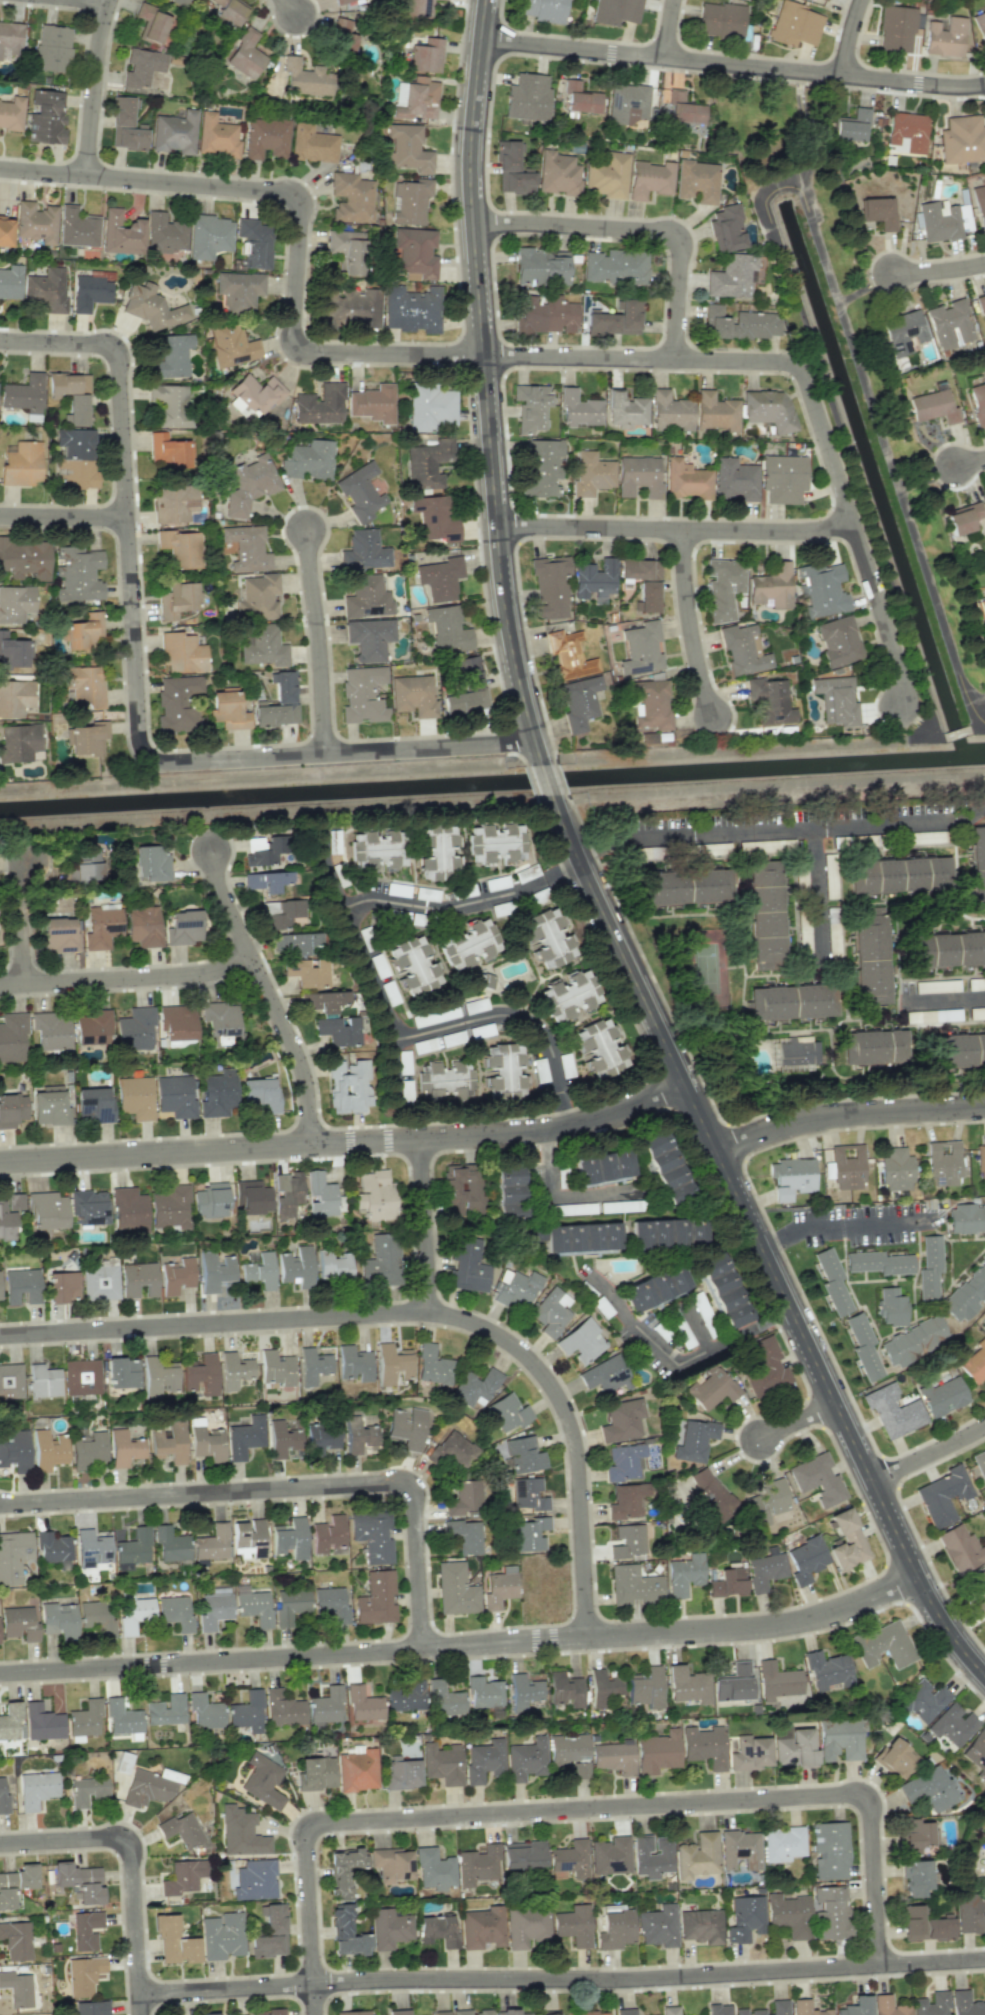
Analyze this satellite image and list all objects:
road: (109, 0)
building: (824, 0)
building: (340, 1)
building: (180, 2)
road: (294, 6)
building: (417, 8)
building: (542, 10)
building: (228, 11)
building: (617, 11)
building: (721, 19)
building: (150, 23)
building: (795, 24)
building: (980, 24)
building: (896, 27)
road: (669, 29)
building: (945, 36)
building: (343, 37)
road: (849, 37)
building: (10, 39)
building: (52, 48)
building: (245, 55)
building: (426, 56)
road: (734, 65)
building: (141, 67)
building: (305, 78)
road: (97, 86)
building: (527, 97)
building: (580, 98)
building: (417, 99)
building: (628, 103)
building: (680, 110)
building: (11, 113)
building: (46, 117)
building: (851, 125)
building: (126, 126)
building: (907, 131)
building: (174, 132)
building: (216, 136)
building: (265, 138)
building: (962, 139)
building: (312, 144)
building: (407, 148)
building: (511, 169)
building: (558, 173)
building: (607, 176)
building: (649, 179)
building: (696, 181)
building: (351, 198)
building: (410, 201)
building: (979, 205)
building: (878, 212)
road: (297, 219)
building: (942, 220)
building: (35, 222)
building: (76, 227)
building: (726, 228)
road: (643, 230)
building: (5, 231)
building: (121, 233)
building: (164, 233)
building: (209, 236)
building: (254, 243)
building: (347, 250)
building: (415, 253)
building: (541, 266)
building: (615, 266)
road: (938, 272)
building: (732, 277)
building: (10, 282)
building: (46, 289)
building: (239, 289)
building: (89, 292)
building: (982, 306)
building: (151, 307)
building: (350, 307)
building: (412, 309)
building: (544, 313)
building: (616, 319)
building: (739, 323)
building: (949, 323)
building: (902, 332)
building: (231, 345)
building: (172, 356)
road: (726, 360)
building: (68, 384)
building: (256, 393)
building: (24, 396)
building: (978, 402)
building: (373, 403)
building: (170, 404)
building: (320, 405)
road: (874, 406)
building: (933, 406)
building: (530, 407)
building: (431, 408)
building: (768, 408)
building: (578, 409)
building: (76, 410)
building: (625, 410)
building: (670, 412)
building: (715, 412)
road: (848, 447)
building: (167, 451)
building: (308, 460)
building: (427, 463)
road: (971, 463)
building: (21, 464)
building: (541, 468)
building: (591, 473)
building: (638, 476)
building: (783, 479)
building: (687, 480)
building: (735, 480)
building: (248, 485)
building: (360, 492)
building: (174, 503)
road: (66, 515)
building: (434, 518)
building: (963, 518)
road: (677, 531)
building: (180, 548)
building: (246, 548)
building: (364, 551)
building: (25, 558)
building: (78, 576)
building: (440, 578)
building: (594, 579)
building: (642, 582)
building: (550, 587)
building: (771, 587)
building: (722, 588)
building: (821, 588)
building: (258, 597)
building: (367, 597)
building: (176, 600)
building: (15, 603)
building: (981, 608)
road: (884, 616)
road: (692, 627)
building: (447, 629)
building: (83, 631)
building: (369, 638)
road: (321, 641)
building: (838, 641)
building: (263, 645)
building: (641, 649)
building: (742, 649)
building: (12, 652)
building: (181, 653)
building: (568, 655)
road: (142, 682)
building: (84, 685)
building: (283, 686)
building: (466, 688)
building: (362, 695)
building: (413, 695)
building: (15, 698)
building: (770, 700)
building: (835, 700)
building: (579, 702)
building: (178, 704)
building: (651, 704)
building: (228, 709)
building: (274, 713)
road: (963, 730)
building: (87, 739)
building: (19, 742)
road: (556, 779)
road: (534, 780)
road: (780, 828)
building: (495, 843)
building: (377, 849)
building: (265, 850)
building: (437, 853)
building: (151, 862)
building: (85, 866)
building: (978, 866)
road: (590, 875)
building: (830, 875)
building: (900, 875)
building: (266, 881)
building: (686, 886)
road: (368, 898)
road: (816, 901)
road: (847, 908)
building: (281, 913)
building: (766, 914)
road: (24, 922)
building: (143, 926)
building: (102, 927)
building: (183, 928)
building: (59, 935)
building: (548, 938)
building: (294, 943)
building: (468, 944)
building: (945, 949)
building: (870, 956)
building: (414, 965)
park: (706, 968)
building: (308, 972)
road: (128, 980)
building: (569, 995)
road: (272, 996)
road: (944, 999)
building: (323, 1001)
building: (794, 1001)
building: (977, 1013)
building: (932, 1014)
building: (435, 1016)
road: (518, 1016)
building: (220, 1018)
building: (177, 1022)
building: (91, 1027)
building: (339, 1029)
building: (135, 1030)
building: (50, 1031)
building: (12, 1036)
building: (871, 1047)
building: (599, 1048)
building: (958, 1050)
building: (793, 1053)
building: (404, 1062)
building: (504, 1070)
building: (445, 1081)
building: (348, 1086)
building: (217, 1093)
building: (260, 1095)
building: (175, 1096)
building: (135, 1097)
building: (94, 1105)
building: (49, 1108)
building: (12, 1110)
road: (848, 1113)
road: (347, 1144)
building: (981, 1158)
building: (943, 1163)
building: (847, 1166)
building: (666, 1167)
building: (603, 1168)
building: (896, 1169)
building: (791, 1177)
building: (461, 1188)
building: (287, 1192)
building: (510, 1192)
road: (562, 1194)
building: (320, 1195)
building: (252, 1196)
building: (375, 1196)
building: (210, 1200)
building: (171, 1206)
building: (621, 1206)
building: (89, 1207)
building: (574, 1209)
building: (129, 1210)
building: (47, 1211)
building: (9, 1215)
building: (967, 1217)
road: (426, 1227)
road: (848, 1228)
building: (666, 1233)
building: (582, 1237)
building: (380, 1260)
building: (879, 1262)
building: (333, 1265)
building: (296, 1266)
building: (468, 1266)
building: (930, 1267)
building: (214, 1271)
building: (260, 1271)
building: (176, 1276)
building: (138, 1279)
building: (832, 1281)
building: (99, 1282)
building: (21, 1285)
building: (62, 1286)
building: (516, 1288)
building: (656, 1288)
building: (723, 1290)
building: (966, 1294)
building: (0, 1296)
building: (891, 1307)
road: (417, 1312)
building: (551, 1312)
building: (983, 1328)
building: (581, 1340)
building: (912, 1341)
building: (863, 1346)
building: (973, 1362)
building: (354, 1363)
building: (392, 1364)
building: (312, 1365)
road: (676, 1365)
building: (433, 1366)
building: (766, 1368)
building: (276, 1369)
building: (234, 1370)
building: (123, 1372)
building: (201, 1374)
building: (606, 1374)
building: (82, 1377)
building: (158, 1377)
building: (10, 1381)
building: (44, 1381)
building: (474, 1387)
building: (711, 1388)
building: (942, 1396)
building: (893, 1410)
building: (507, 1412)
building: (622, 1420)
road: (798, 1422)
building: (406, 1428)
building: (359, 1436)
building: (244, 1437)
building: (321, 1437)
building: (282, 1439)
building: (694, 1440)
building: (206, 1441)
building: (169, 1443)
building: (124, 1448)
building: (88, 1449)
building: (48, 1450)
building: (452, 1450)
building: (14, 1451)
building: (524, 1455)
road: (929, 1456)
building: (624, 1462)
building: (979, 1464)
building: (817, 1478)
road: (288, 1489)
building: (710, 1494)
building: (529, 1495)
building: (943, 1495)
building: (465, 1498)
building: (626, 1500)
building: (328, 1533)
building: (531, 1533)
building: (373, 1535)
building: (465, 1535)
building: (248, 1538)
building: (290, 1538)
building: (846, 1540)
building: (627, 1541)
building: (171, 1544)
building: (210, 1545)
building: (92, 1548)
building: (960, 1548)
building: (54, 1549)
building: (133, 1549)
building: (13, 1556)
building: (805, 1560)
building: (764, 1570)
building: (684, 1574)
building: (727, 1583)
building: (980, 1583)
building: (633, 1585)
building: (499, 1587)
building: (455, 1589)
building: (376, 1599)
building: (331, 1603)
building: (290, 1604)
building: (253, 1605)
building: (213, 1610)
building: (175, 1612)
building: (134, 1614)
building: (97, 1617)
building: (59, 1620)
building: (19, 1623)
building: (883, 1645)
road: (463, 1646)
building: (827, 1670)
building: (777, 1681)
building: (733, 1683)
building: (688, 1685)
building: (602, 1688)
building: (646, 1688)
building: (565, 1689)
building: (523, 1691)
building: (484, 1692)
building: (406, 1697)
building: (444, 1699)
building: (922, 1700)
building: (363, 1704)
building: (325, 1705)
building: (283, 1708)
building: (165, 1710)
building: (204, 1711)
building: (246, 1712)
building: (85, 1718)
building: (122, 1718)
building: (9, 1721)
building: (42, 1722)
building: (952, 1724)
building: (839, 1739)
building: (704, 1746)
building: (567, 1748)
building: (795, 1749)
building: (657, 1751)
building: (976, 1752)
building: (749, 1753)
building: (614, 1757)
building: (895, 1757)
building: (526, 1759)
building: (483, 1760)
building: (442, 1763)
building: (357, 1770)
building: (401, 1772)
building: (315, 1773)
building: (263, 1781)
building: (147, 1788)
building: (36, 1789)
building: (928, 1789)
building: (87, 1791)
building: (3, 1798)
road: (594, 1808)
building: (181, 1830)
building: (241, 1833)
building: (915, 1835)
building: (782, 1843)
building: (740, 1849)
building: (829, 1850)
building: (522, 1854)
building: (610, 1855)
building: (651, 1856)
building: (697, 1856)
building: (569, 1860)
building: (391, 1864)
building: (478, 1864)
road: (130, 1866)
building: (433, 1869)
building: (343, 1870)
building: (984, 1876)
building: (183, 1877)
building: (916, 1877)
building: (255, 1880)
building: (79, 1881)
building: (16, 1884)
building: (831, 1912)
building: (971, 1913)
building: (789, 1914)
building: (744, 1918)
building: (573, 1925)
building: (924, 1925)
building: (526, 1926)
building: (658, 1926)
building: (701, 1926)
building: (390, 1927)
building: (482, 1927)
building: (86, 1929)
building: (614, 1929)
building: (269, 1931)
building: (437, 1931)
building: (347, 1933)
building: (222, 1936)
building: (16, 1940)
building: (174, 1941)
building: (84, 1975)
road: (561, 1981)
building: (17, 1989)
road: (316, 2000)
building: (931, 2004)
building: (965, 2004)
building: (856, 2006)
building: (888, 2006)
building: (91, 2008)
building: (775, 2008)
building: (806, 2008)
building: (670, 2010)
building: (725, 2010)
building: (625, 2011)
building: (269, 2012)
building: (398, 2012)
building: (441, 2012)
building: (472, 2012)
building: (510, 2012)
building: (353, 2013)
building: (549, 2013)
building: (592, 2013)
building: (208, 2014)

